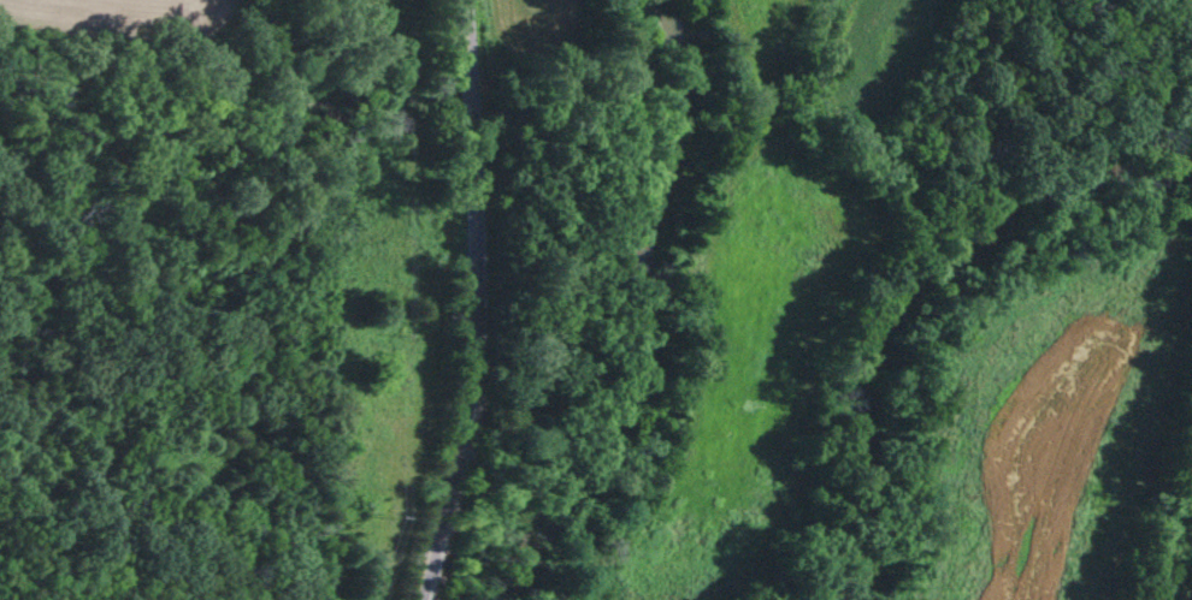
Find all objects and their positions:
river: (901, 286)
road: (473, 302)
river: (649, 320)

